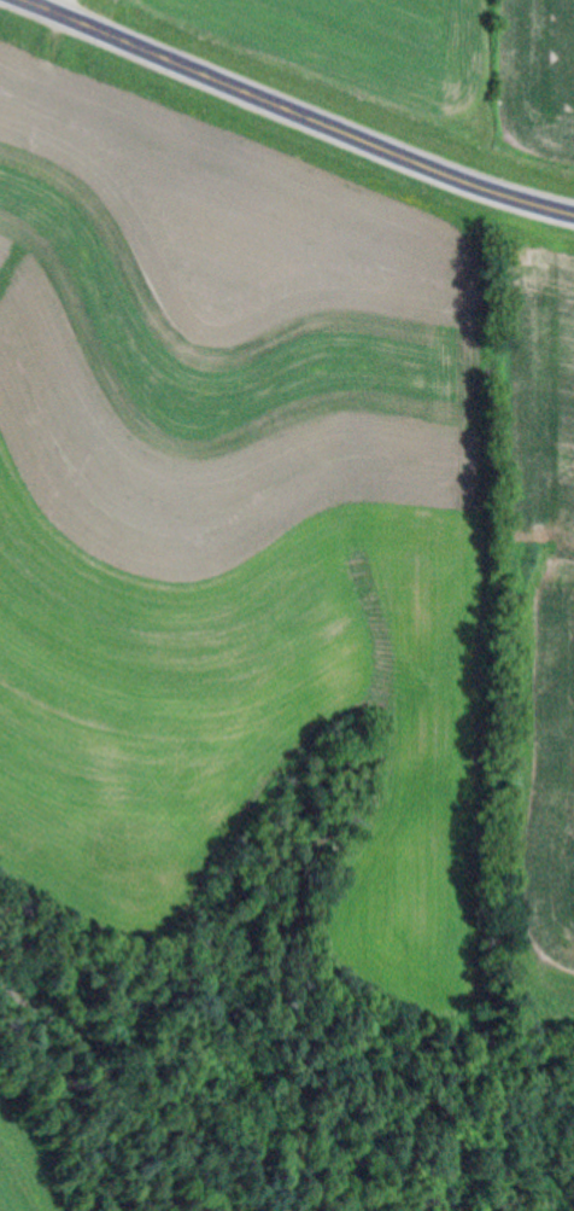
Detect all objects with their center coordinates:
road: (299, 113)
road: (43, 124)

